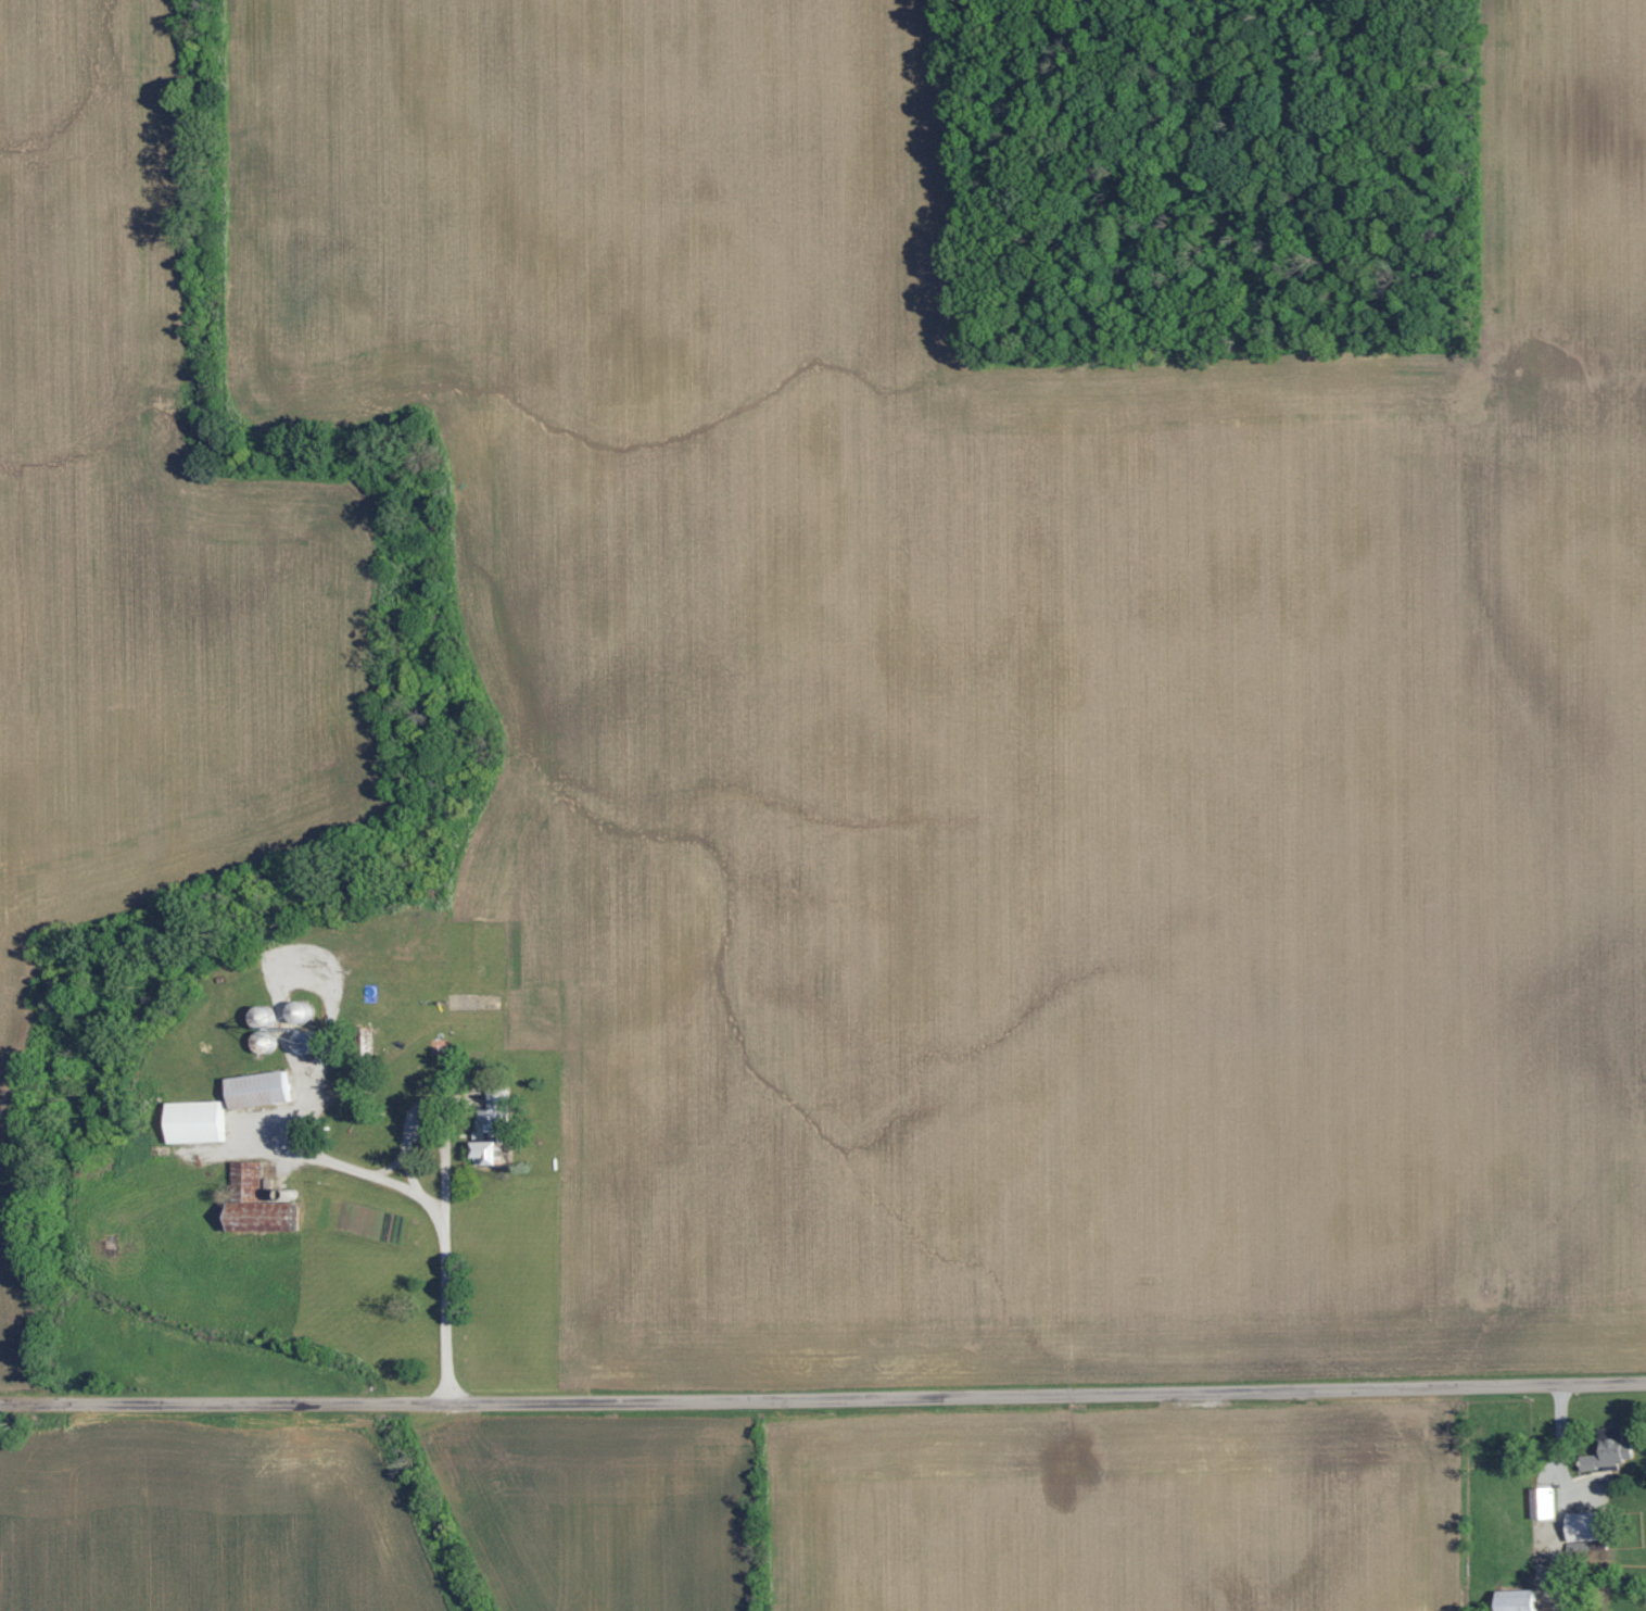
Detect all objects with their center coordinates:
crop: (139, 552)
crop: (1565, 683)
crop: (902, 719)
silo: (304, 1009)
silo: (267, 1015)
building: (273, 1015)
road: (328, 1020)
road: (288, 1025)
silo: (267, 1039)
building: (311, 1039)
silo: (311, 1039)
building: (262, 1087)
road: (468, 1097)
road: (446, 1099)
road: (317, 1100)
road: (416, 1109)
building: (201, 1119)
building: (495, 1125)
road: (407, 1162)
road: (391, 1168)
road: (447, 1169)
road: (372, 1174)
building: (269, 1186)
silo: (294, 1193)
building: (258, 1205)
road: (448, 1317)
road: (823, 1397)
building: (1611, 1453)
road: (1567, 1457)
road: (1552, 1469)
crop: (602, 1500)
building: (1545, 1500)
crop: (1106, 1501)
crop: (202, 1510)
building: (1590, 1530)
building: (1520, 1599)

